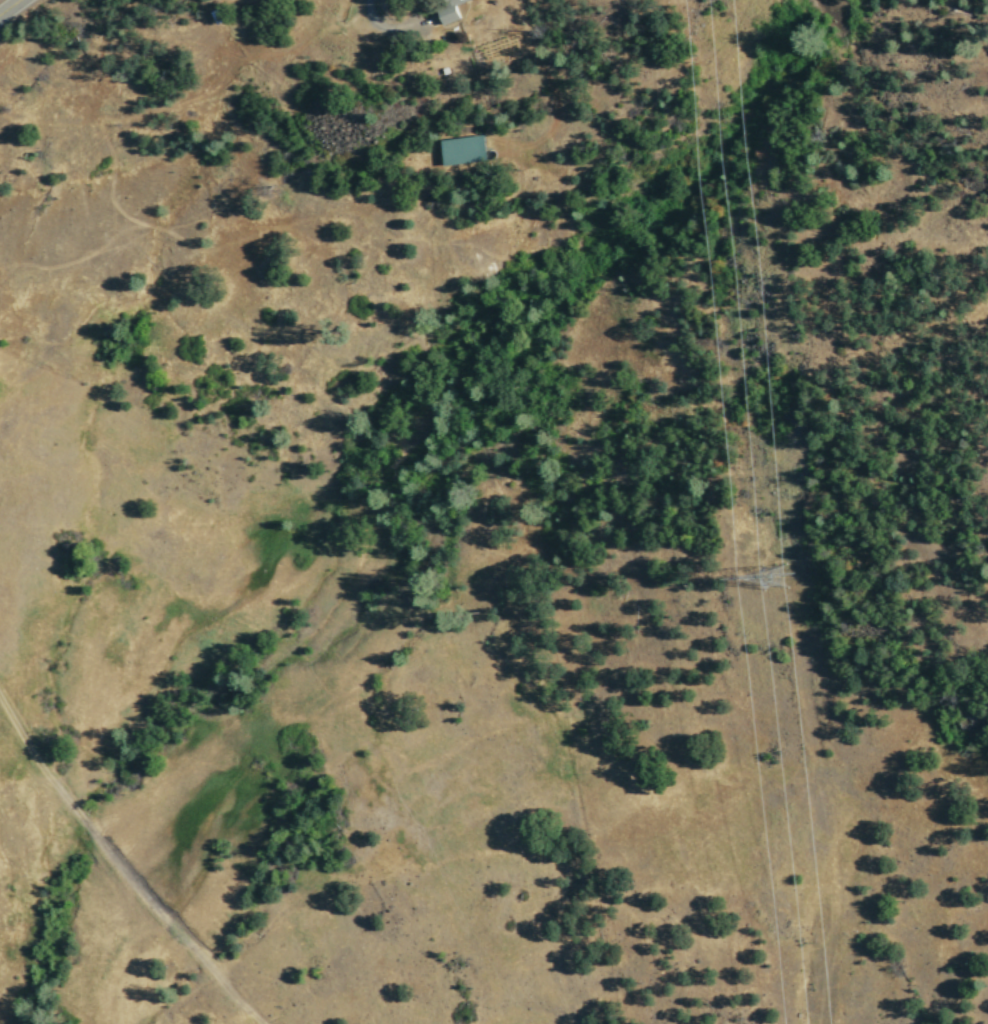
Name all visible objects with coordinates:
road: (7, 5)
building: (450, 11)
building: (462, 149)
power tower: (768, 589)
road: (121, 867)

